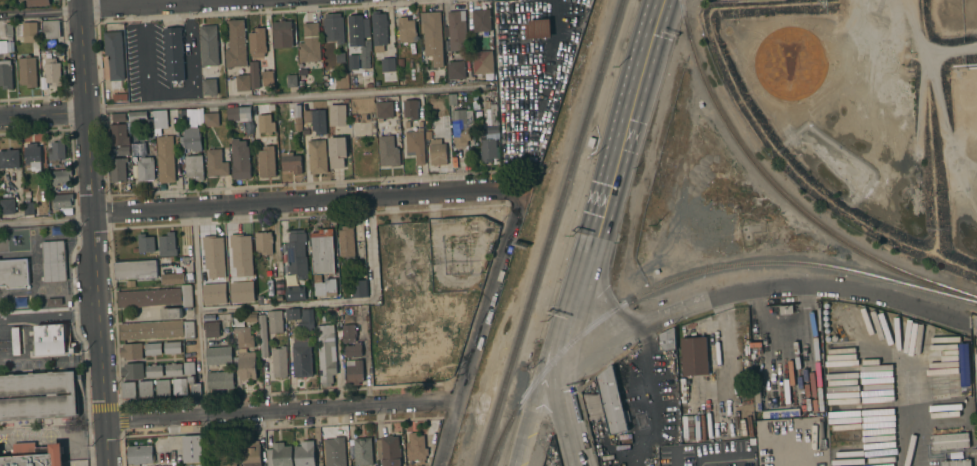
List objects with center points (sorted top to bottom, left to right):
building: (37, 2)
road: (141, 3)
road: (39, 12)
building: (482, 25)
building: (333, 28)
building: (51, 29)
building: (538, 29)
building: (8, 30)
building: (378, 30)
building: (406, 30)
building: (457, 30)
building: (727, 30)
building: (739, 30)
building: (27, 31)
building: (282, 34)
building: (432, 36)
building: (360, 37)
building: (257, 43)
building: (236, 44)
building: (310, 44)
building: (208, 45)
road: (553, 49)
building: (174, 54)
building: (114, 57)
building: (340, 57)
building: (400, 62)
building: (482, 62)
building: (790, 63)
building: (388, 64)
building: (52, 69)
building: (456, 70)
building: (27, 72)
building: (5, 74)
building: (254, 74)
building: (267, 78)
building: (291, 81)
building: (242, 82)
building: (209, 86)
building: (120, 97)
building: (444, 97)
building: (475, 98)
road: (290, 99)
building: (452, 99)
building: (410, 109)
building: (384, 110)
building: (239, 113)
road: (42, 114)
building: (182, 115)
building: (337, 115)
building: (192, 116)
building: (118, 117)
building: (297, 117)
building: (354, 118)
building: (211, 119)
building: (316, 120)
building: (140, 121)
building: (157, 122)
building: (265, 124)
building: (407, 124)
building: (420, 124)
building: (461, 127)
building: (118, 134)
building: (489, 135)
building: (192, 139)
building: (591, 142)
building: (415, 145)
building: (56, 151)
building: (123, 151)
building: (337, 151)
building: (388, 151)
building: (437, 152)
building: (317, 156)
building: (32, 157)
building: (9, 158)
building: (165, 158)
building: (239, 159)
building: (266, 161)
building: (291, 162)
building: (216, 163)
building: (194, 166)
building: (118, 169)
building: (146, 169)
building: (60, 177)
road: (610, 178)
railway: (783, 193)
road: (305, 200)
building: (62, 201)
building: (8, 206)
building: (29, 209)
road: (45, 221)
road: (92, 232)
railway: (549, 233)
building: (346, 241)
building: (145, 243)
building: (263, 243)
building: (167, 244)
road: (369, 249)
building: (322, 251)
building: (297, 253)
building: (185, 259)
building: (58, 260)
building: (47, 261)
building: (459, 269)
building: (135, 270)
building: (14, 273)
railway: (692, 275)
building: (173, 278)
building: (130, 283)
building: (324, 287)
building: (359, 288)
road: (750, 291)
building: (294, 293)
building: (156, 297)
building: (58, 301)
building: (51, 302)
road: (286, 306)
building: (171, 313)
building: (292, 313)
road: (48, 316)
building: (250, 317)
building: (307, 319)
building: (275, 321)
road: (479, 327)
road: (972, 328)
building: (212, 329)
building: (157, 330)
building: (349, 333)
road: (200, 336)
building: (263, 336)
building: (244, 337)
building: (51, 339)
building: (667, 340)
building: (16, 341)
road: (80, 341)
building: (172, 347)
building: (153, 349)
building: (73, 350)
building: (353, 350)
building: (131, 352)
building: (326, 354)
building: (219, 355)
building: (694, 356)
building: (301, 357)
building: (280, 362)
building: (245, 365)
building: (189, 368)
building: (173, 369)
building: (975, 370)
building: (132, 371)
building: (154, 371)
building: (354, 371)
building: (220, 380)
building: (193, 386)
building: (179, 387)
building: (162, 388)
building: (145, 389)
building: (129, 390)
building: (38, 396)
building: (612, 401)
building: (592, 402)
road: (904, 407)
road: (534, 410)
road: (280, 411)
road: (564, 411)
building: (780, 413)
building: (688, 428)
building: (949, 441)
building: (416, 448)
building: (192, 449)
building: (389, 450)
building: (362, 451)
building: (334, 452)
building: (252, 453)
building: (305, 453)
building: (140, 454)
building: (34, 455)
building: (279, 455)
building: (225, 459)
road: (721, 459)
building: (957, 463)

